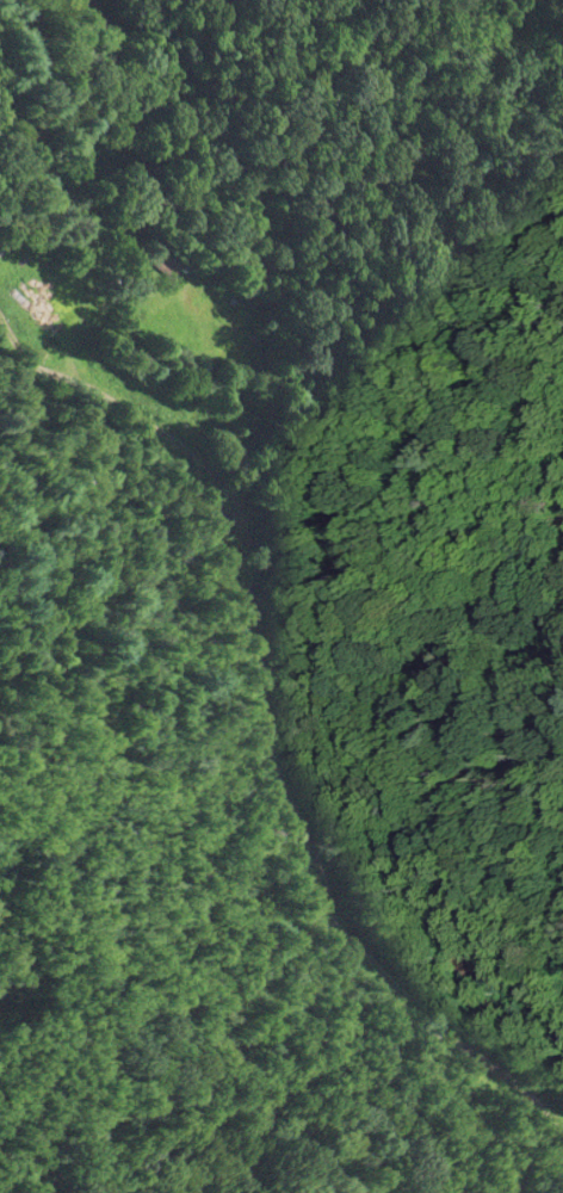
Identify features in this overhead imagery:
building: (163, 265)

